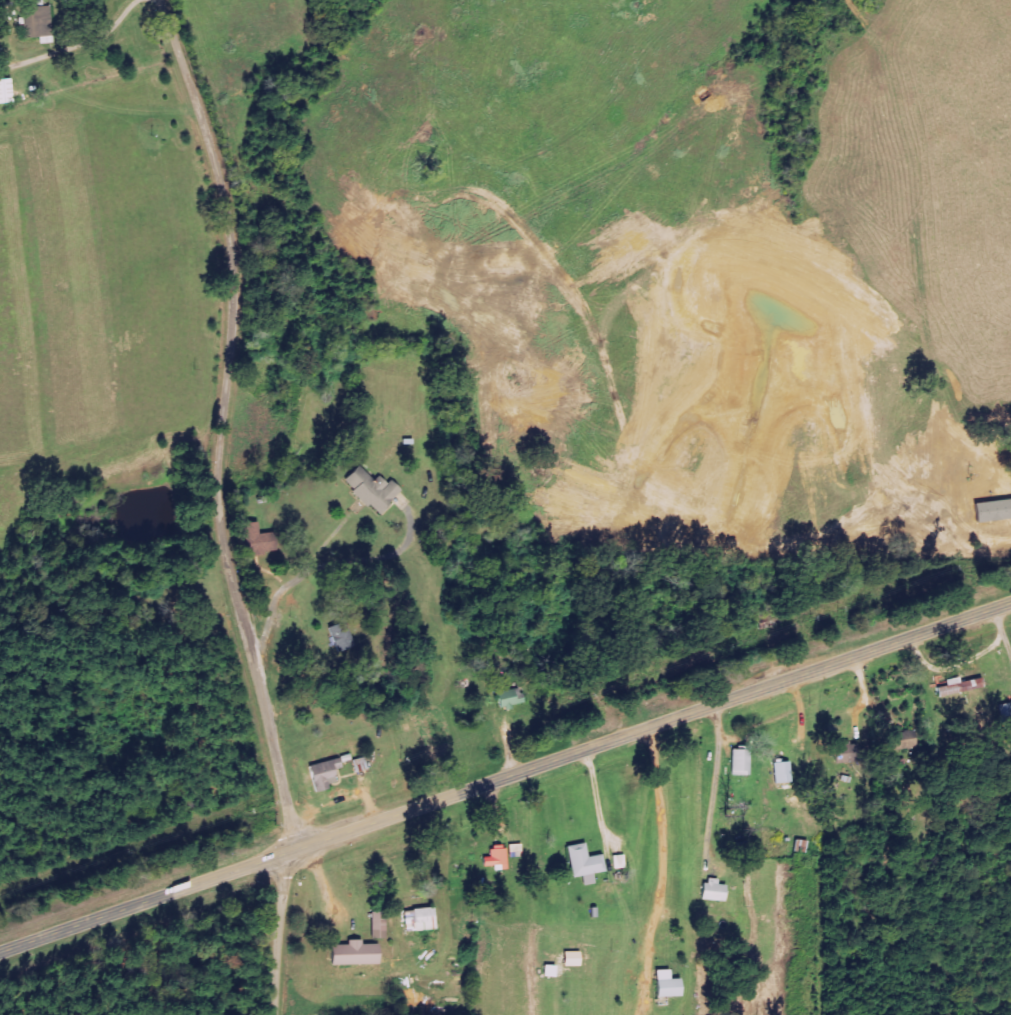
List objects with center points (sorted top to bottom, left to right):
building: (35, 23)
road: (110, 232)
road: (232, 419)
building: (370, 490)
building: (254, 540)
road: (115, 574)
building: (957, 686)
building: (507, 699)
building: (1004, 711)
building: (899, 740)
building: (845, 753)
building: (358, 765)
building: (780, 773)
building: (322, 774)
road: (505, 776)
building: (513, 849)
building: (494, 859)
building: (617, 862)
building: (582, 864)
building: (710, 891)
building: (376, 925)
road: (284, 933)
building: (351, 954)
building: (570, 959)
building: (547, 971)
building: (665, 985)

